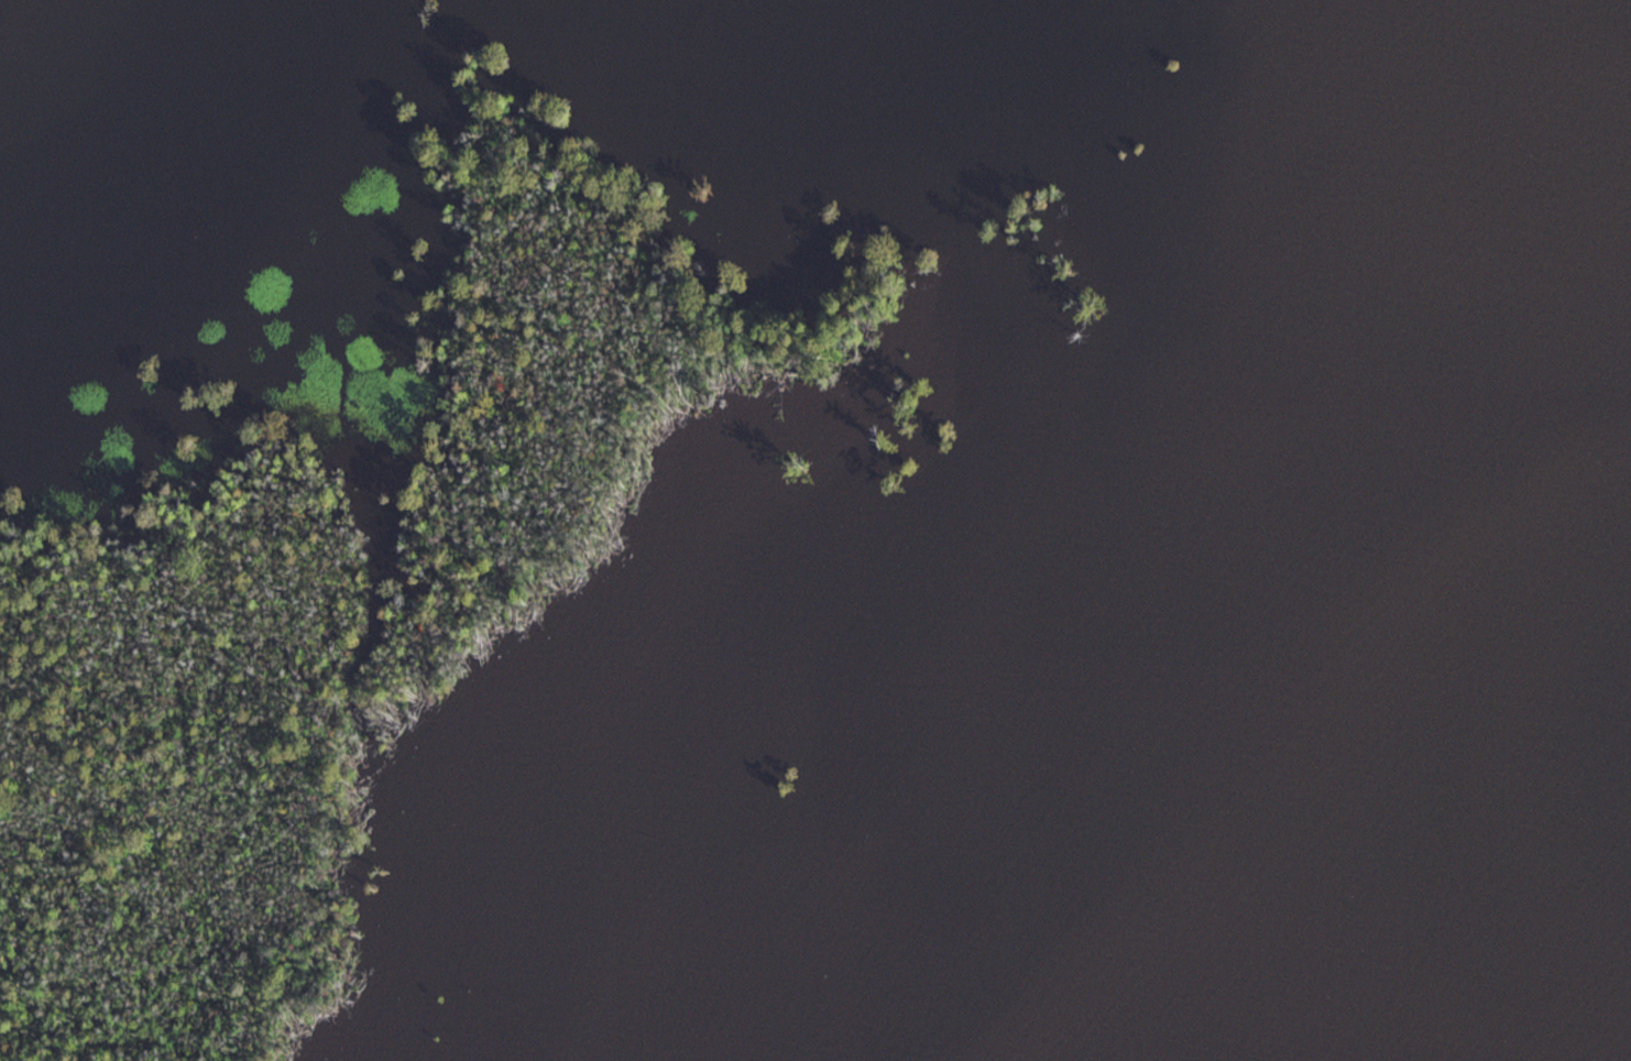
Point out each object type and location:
river: (1506, 485)

